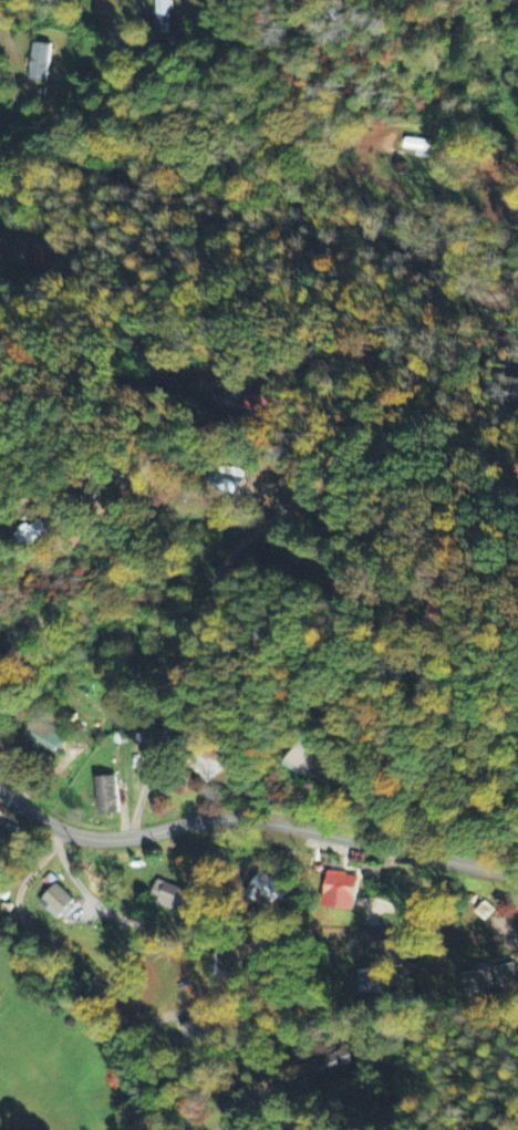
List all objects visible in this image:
road: (17, 8)
building: (162, 17)
building: (37, 63)
road: (177, 103)
building: (418, 148)
road: (270, 197)
road: (512, 210)
building: (41, 255)
road: (515, 278)
road: (278, 348)
road: (244, 470)
building: (226, 483)
building: (30, 537)
road: (101, 601)
road: (314, 647)
road: (158, 733)
building: (42, 736)
building: (300, 759)
building: (207, 767)
building: (105, 797)
road: (386, 812)
road: (255, 821)
building: (265, 891)
building: (338, 893)
building: (167, 896)
building: (56, 903)
road: (249, 937)
road: (92, 974)
building: (194, 1034)
building: (331, 1064)
road: (244, 1097)

